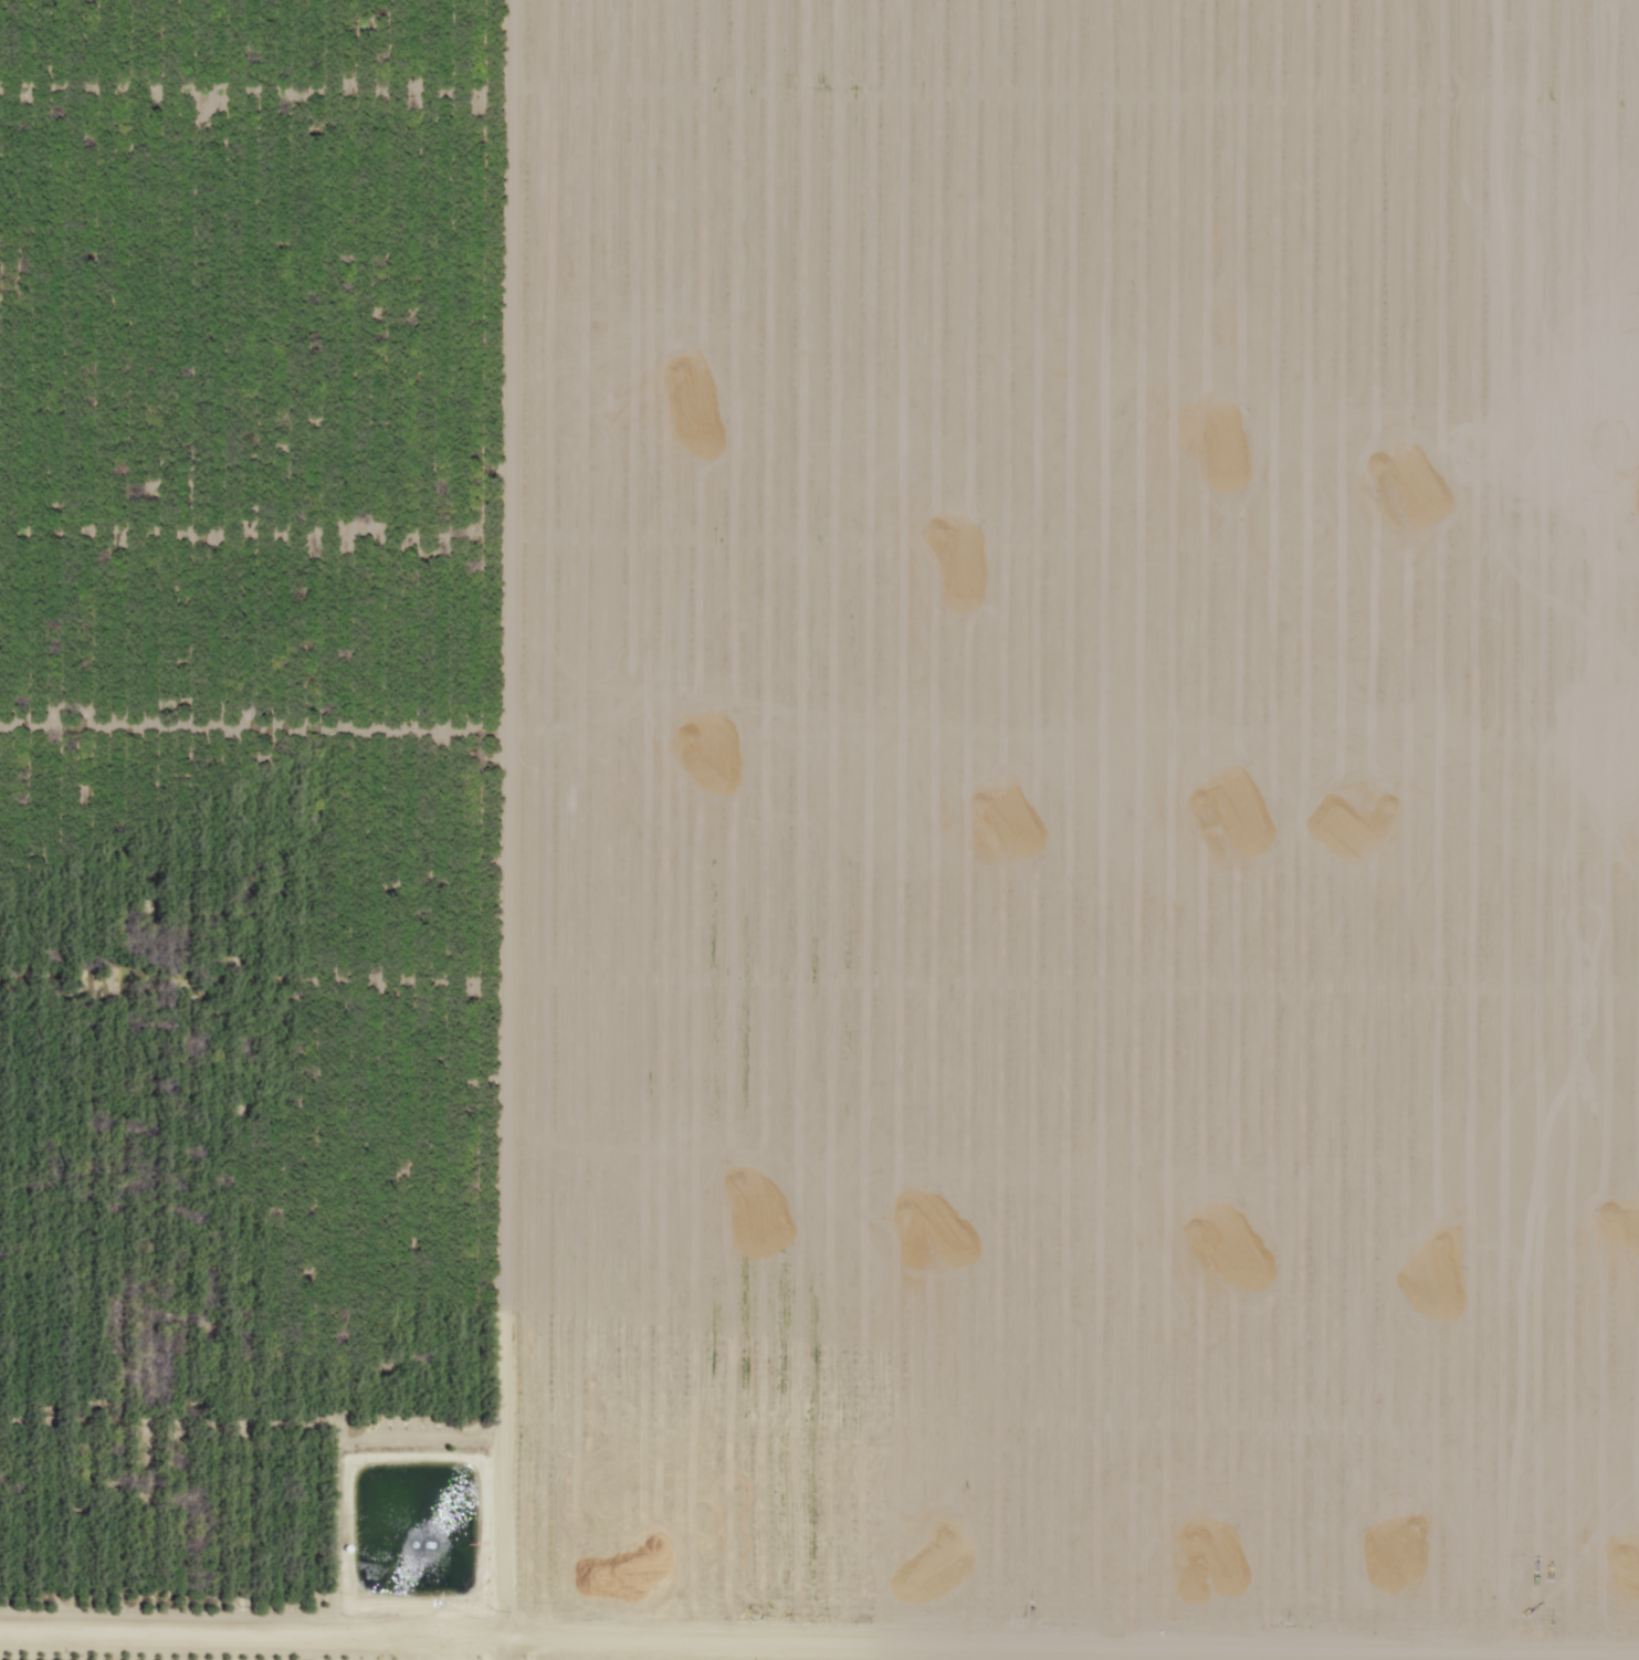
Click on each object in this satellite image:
crop: (283, 803)
road: (555, 829)
road: (819, 1585)

